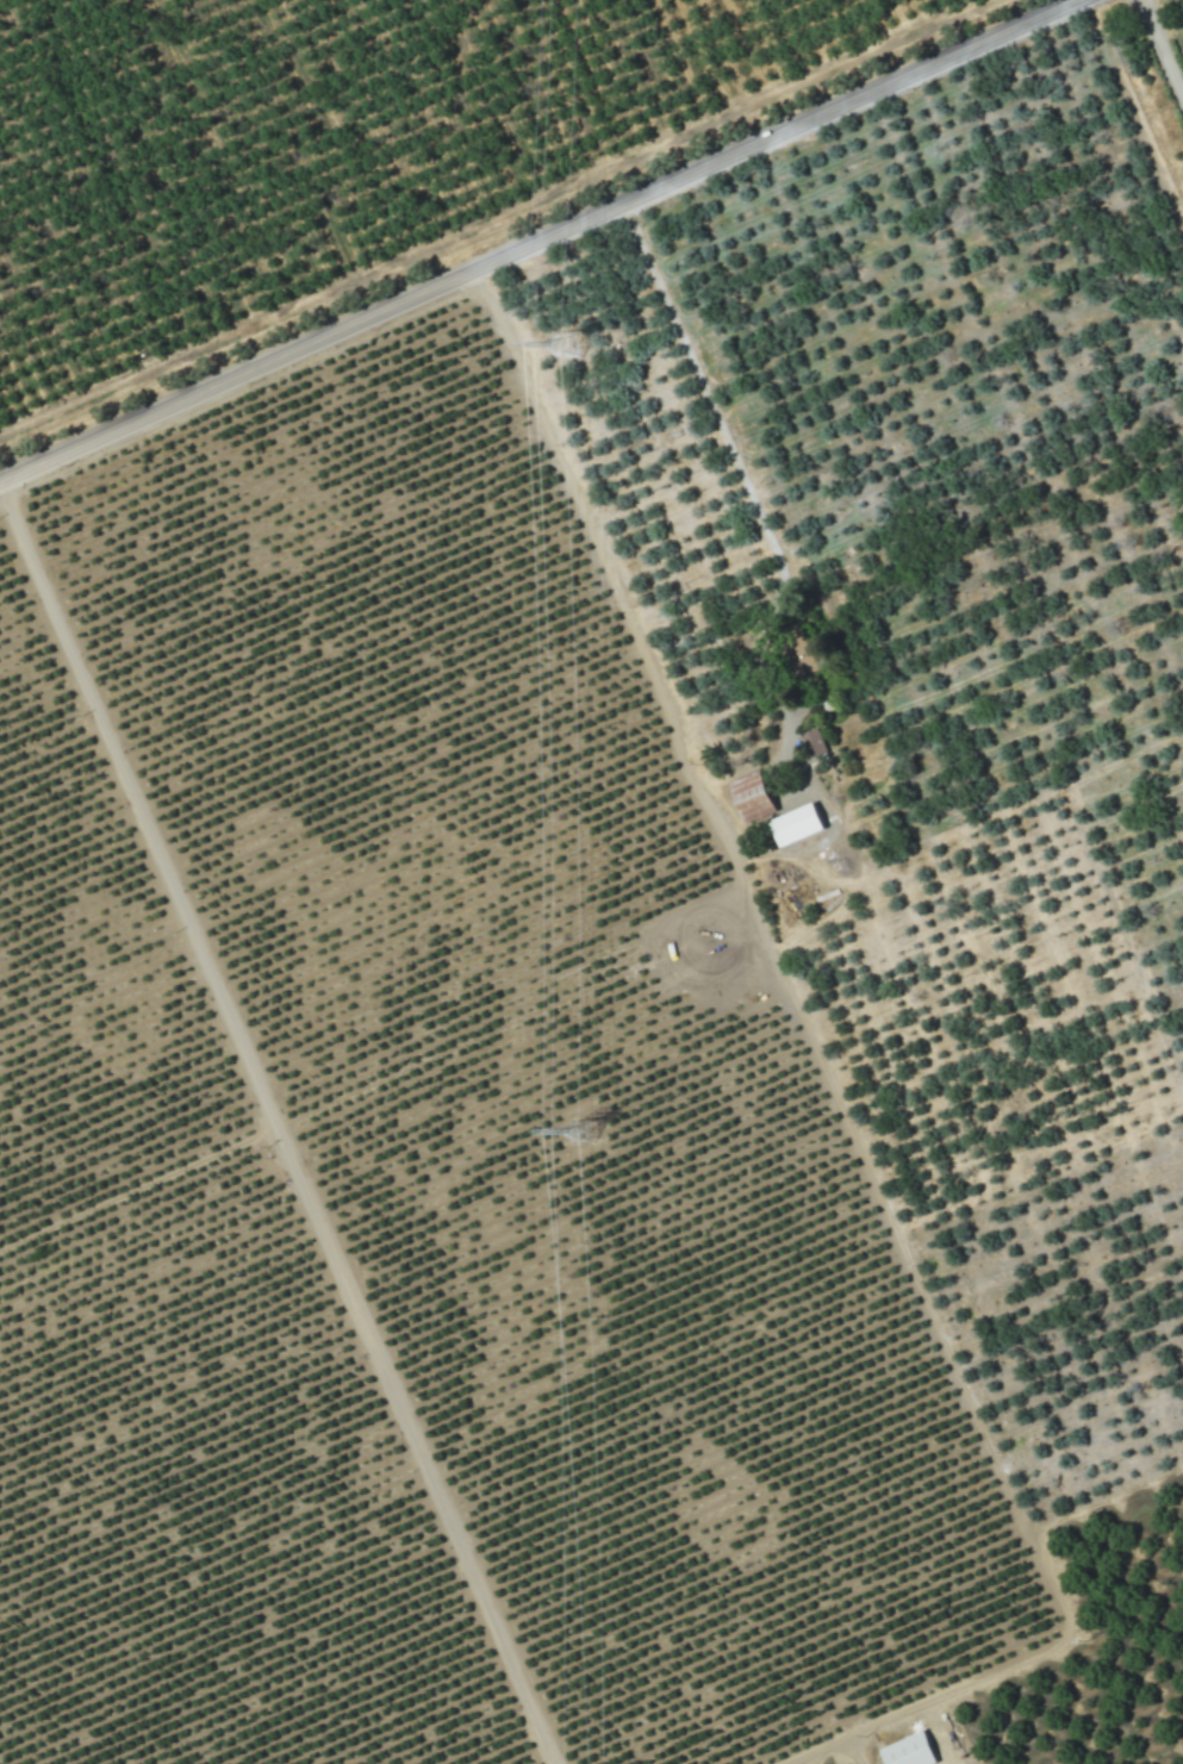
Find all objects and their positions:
road: (1165, 39)
road: (541, 245)
power tower: (571, 338)
road: (739, 468)
building: (751, 794)
building: (796, 825)
road: (834, 1095)
road: (276, 1129)
power tower: (583, 1130)
building: (908, 1751)

